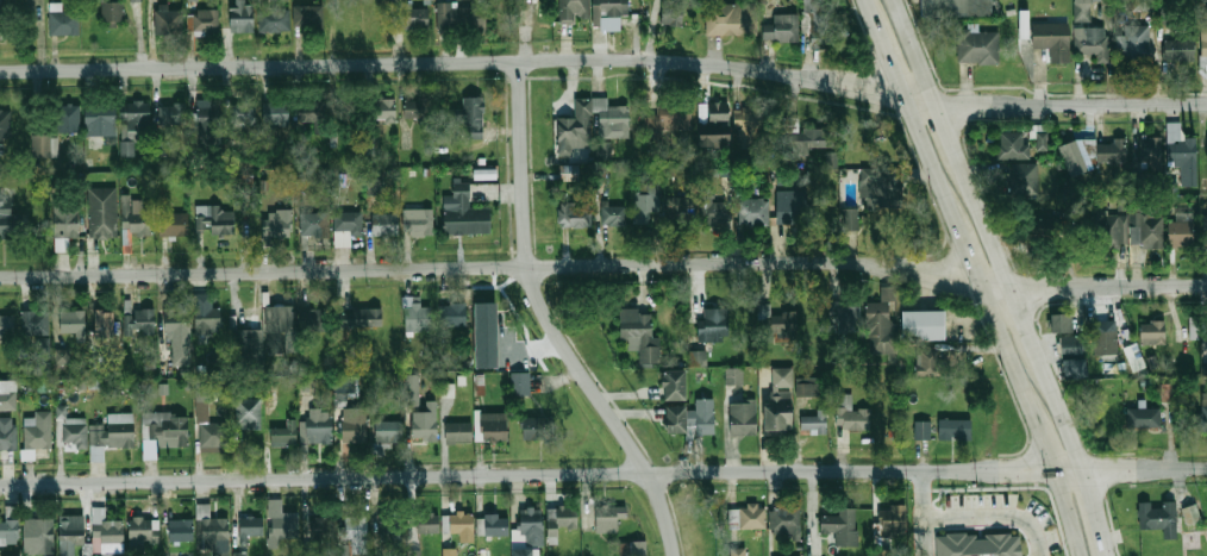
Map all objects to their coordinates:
building: (135, 0)
building: (1203, 0)
building: (1142, 5)
building: (951, 7)
building: (574, 11)
building: (1083, 11)
building: (112, 12)
building: (1163, 12)
building: (673, 13)
building: (611, 14)
building: (240, 17)
building: (412, 17)
building: (0, 18)
building: (307, 18)
building: (274, 19)
building: (462, 19)
building: (732, 19)
building: (169, 20)
building: (62, 21)
building: (207, 21)
building: (819, 24)
building: (1024, 24)
building: (784, 27)
road: (521, 31)
building: (1053, 42)
building: (1090, 42)
building: (1137, 44)
building: (1203, 44)
building: (978, 48)
building: (1180, 50)
road: (921, 52)
road: (605, 61)
road: (906, 101)
building: (417, 108)
building: (336, 110)
building: (383, 111)
building: (308, 112)
building: (173, 113)
building: (244, 113)
building: (276, 113)
building: (99, 114)
building: (470, 115)
building: (670, 117)
building: (68, 118)
building: (209, 121)
building: (133, 123)
building: (588, 124)
building: (5, 125)
building: (715, 125)
building: (750, 133)
building: (806, 137)
building: (1043, 142)
road: (958, 145)
building: (1013, 145)
building: (42, 146)
building: (1181, 146)
building: (1206, 150)
building: (1113, 151)
building: (1080, 152)
building: (1152, 154)
building: (831, 160)
building: (571, 173)
building: (1025, 180)
building: (246, 182)
building: (375, 186)
building: (881, 188)
building: (648, 201)
building: (680, 205)
building: (790, 206)
building: (713, 211)
building: (755, 211)
building: (102, 212)
building: (575, 213)
building: (6, 214)
building: (464, 214)
building: (614, 214)
building: (137, 217)
building: (65, 219)
building: (215, 219)
building: (846, 219)
building: (418, 221)
building: (279, 223)
building: (173, 224)
building: (383, 224)
building: (314, 225)
building: (1149, 226)
building: (346, 227)
building: (1103, 230)
building: (1205, 231)
building: (1181, 233)
road: (994, 236)
road: (964, 245)
road: (605, 265)
building: (206, 313)
building: (451, 314)
building: (359, 317)
building: (845, 317)
building: (417, 318)
building: (313, 320)
building: (144, 321)
building: (35, 323)
building: (71, 323)
building: (104, 323)
road: (551, 323)
building: (781, 323)
building: (882, 323)
building: (282, 324)
building: (1061, 324)
building: (7, 325)
building: (709, 325)
building: (923, 325)
building: (1153, 332)
road: (1033, 333)
building: (639, 335)
building: (479, 336)
building: (177, 339)
road: (1005, 342)
building: (1105, 342)
building: (1070, 345)
building: (243, 346)
building: (1132, 352)
building: (62, 356)
building: (695, 357)
building: (927, 362)
building: (1078, 368)
building: (732, 375)
building: (520, 383)
building: (669, 386)
building: (346, 387)
building: (806, 387)
building: (413, 391)
building: (1168, 393)
building: (7, 395)
building: (778, 400)
building: (248, 414)
building: (851, 414)
building: (701, 417)
building: (1143, 417)
building: (743, 418)
building: (670, 419)
building: (1203, 421)
building: (424, 423)
building: (814, 423)
road: (1070, 424)
building: (352, 427)
building: (493, 427)
building: (537, 427)
building: (320, 429)
building: (955, 429)
building: (70, 430)
building: (165, 430)
building: (921, 430)
building: (118, 431)
building: (387, 432)
building: (458, 432)
road: (1043, 432)
building: (7, 433)
building: (213, 435)
building: (283, 436)
building: (37, 437)
road: (602, 473)
building: (1192, 511)
road: (1102, 512)
road: (1071, 513)
building: (608, 517)
building: (746, 517)
building: (1158, 517)
building: (563, 518)
road: (969, 518)
building: (786, 519)
building: (282, 521)
building: (893, 521)
building: (426, 523)
building: (458, 524)
building: (495, 525)
building: (842, 525)
building: (250, 527)
building: (321, 527)
building: (390, 527)
building: (71, 530)
building: (144, 530)
building: (180, 530)
building: (212, 531)
building: (8, 532)
building: (526, 532)
building: (356, 533)
building: (107, 535)
building: (37, 536)
road: (924, 537)
building: (982, 541)
building: (633, 549)
building: (449, 551)
building: (737, 551)
building: (414, 552)
building: (239, 554)

